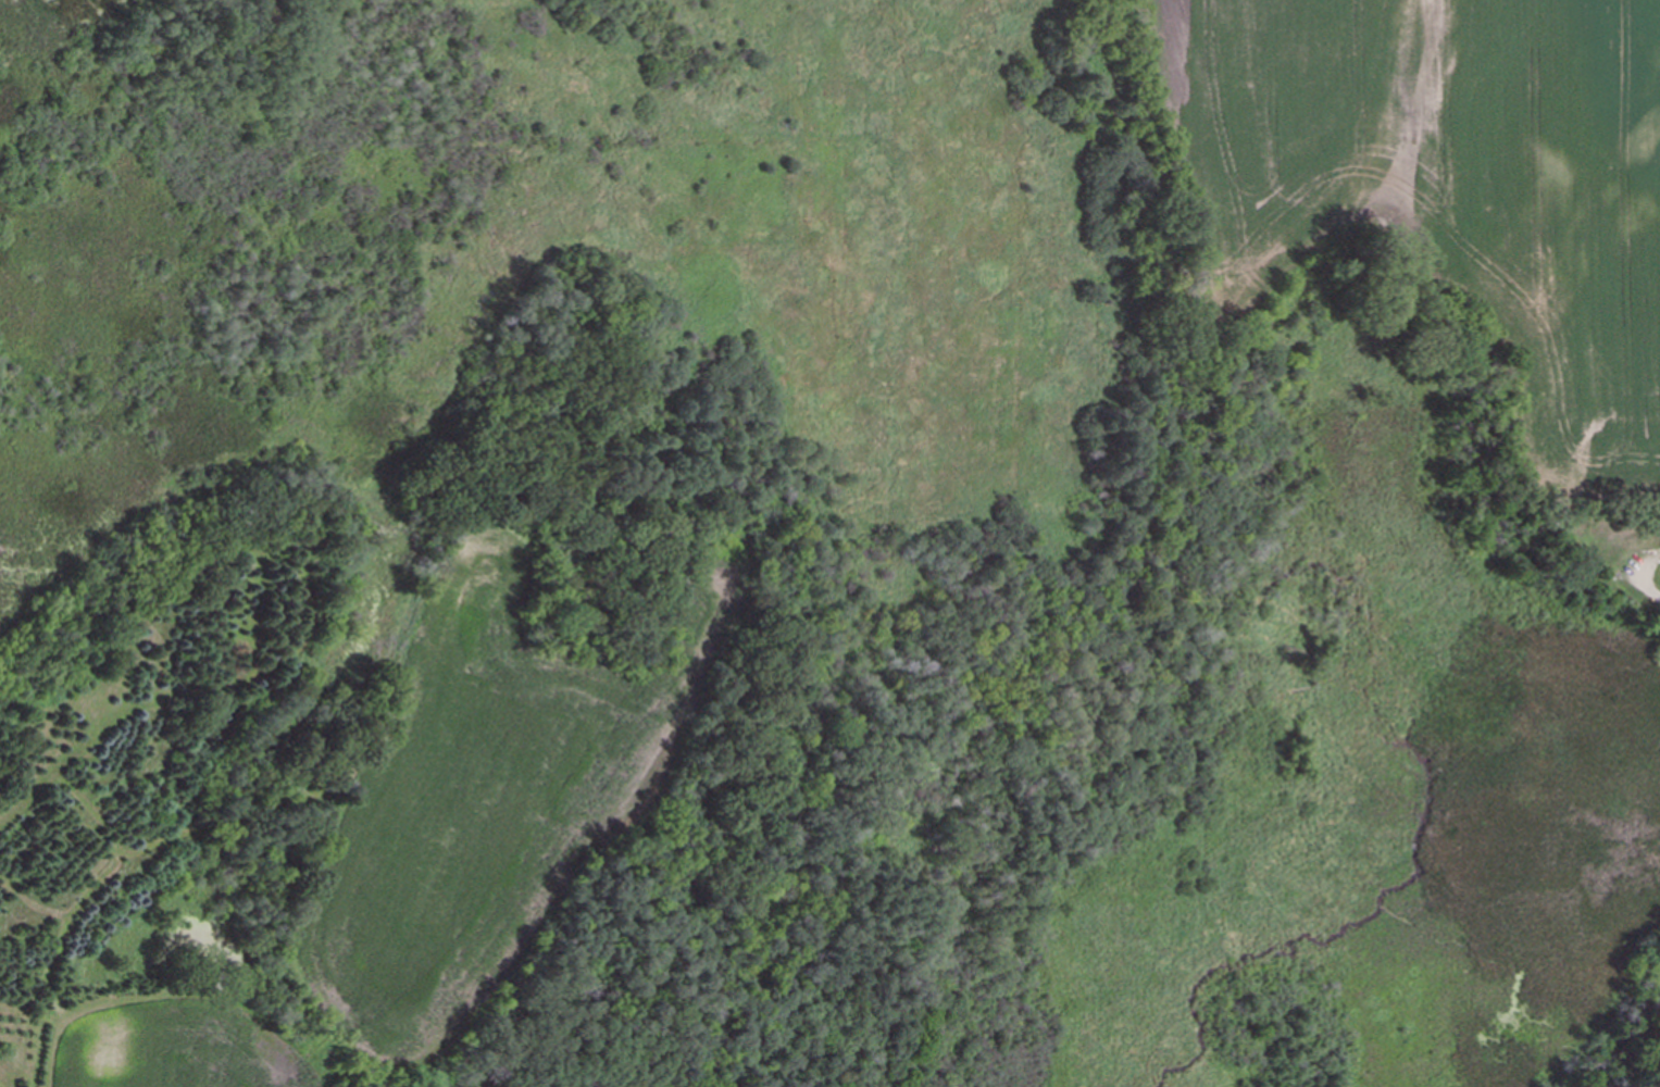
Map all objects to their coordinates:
road: (1650, 586)

